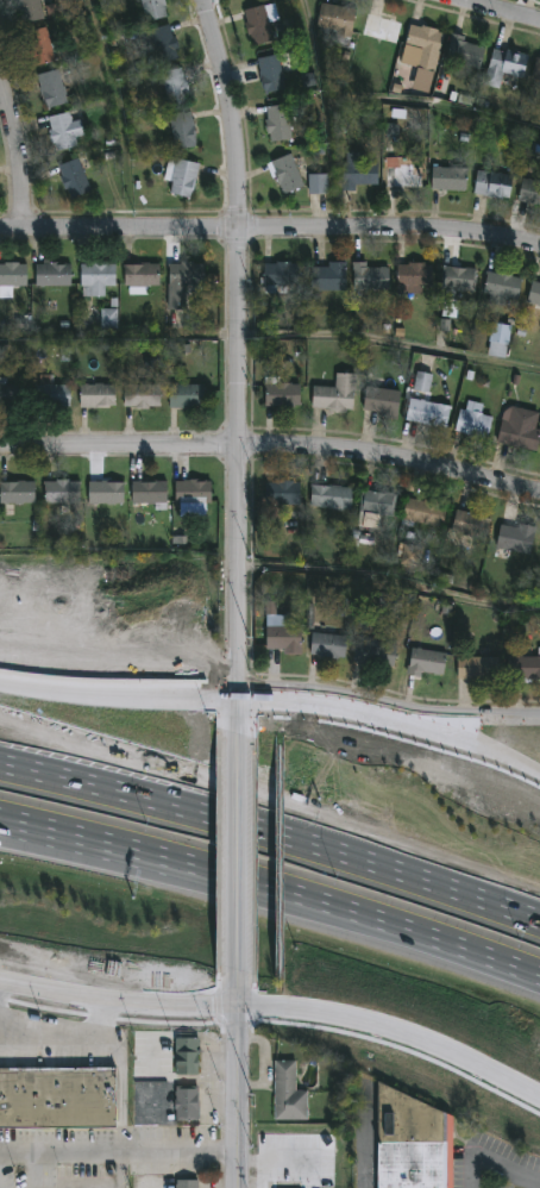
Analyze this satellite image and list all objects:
building: (153, 8)
building: (31, 10)
road: (498, 11)
building: (338, 18)
building: (262, 23)
building: (383, 27)
building: (162, 43)
building: (43, 45)
building: (425, 46)
building: (466, 51)
building: (506, 64)
building: (538, 69)
building: (272, 73)
building: (176, 86)
building: (52, 87)
road: (228, 111)
building: (280, 121)
building: (67, 127)
building: (183, 129)
road: (17, 157)
building: (359, 170)
building: (287, 173)
building: (183, 175)
building: (406, 176)
building: (75, 177)
building: (451, 177)
building: (495, 182)
building: (318, 183)
building: (530, 190)
road: (270, 226)
building: (55, 273)
building: (285, 273)
building: (461, 275)
building: (143, 276)
building: (331, 276)
building: (371, 276)
building: (415, 276)
building: (12, 277)
building: (98, 277)
building: (189, 281)
building: (503, 286)
building: (535, 293)
building: (108, 318)
building: (502, 337)
road: (389, 342)
building: (422, 382)
building: (51, 393)
building: (282, 393)
building: (337, 394)
building: (10, 395)
building: (99, 395)
building: (143, 395)
building: (188, 396)
building: (384, 401)
building: (429, 412)
building: (475, 420)
building: (521, 430)
road: (271, 445)
road: (237, 480)
building: (63, 490)
building: (150, 490)
building: (194, 490)
building: (19, 492)
building: (107, 492)
building: (285, 492)
building: (333, 495)
building: (379, 502)
building: (425, 513)
building: (471, 527)
building: (516, 539)
road: (389, 576)
building: (389, 602)
building: (345, 606)
building: (283, 632)
building: (329, 642)
building: (539, 650)
building: (376, 652)
building: (427, 662)
building: (479, 667)
building: (525, 668)
road: (117, 699)
road: (328, 706)
road: (481, 724)
road: (482, 749)
road: (275, 796)
road: (272, 832)
road: (93, 840)
road: (93, 849)
road: (237, 854)
road: (364, 915)
road: (277, 1012)
road: (63, 1032)
building: (188, 1057)
road: (234, 1080)
road: (119, 1088)
building: (290, 1094)
building: (57, 1099)
building: (188, 1105)
building: (415, 1143)
road: (366, 1151)
road: (117, 1152)
road: (272, 1162)
road: (491, 1164)
road: (33, 1170)
road: (263, 1175)
parking lot: (27, 1176)
road: (87, 1183)
building: (188, 1183)
road: (249, 1186)
road: (162, 1187)

